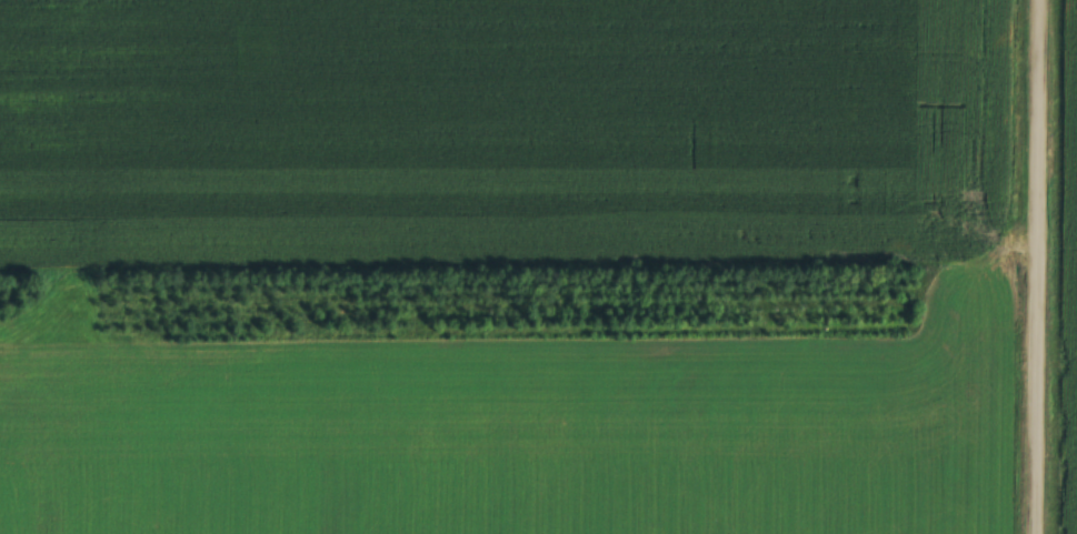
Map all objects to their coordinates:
road: (1046, 266)

